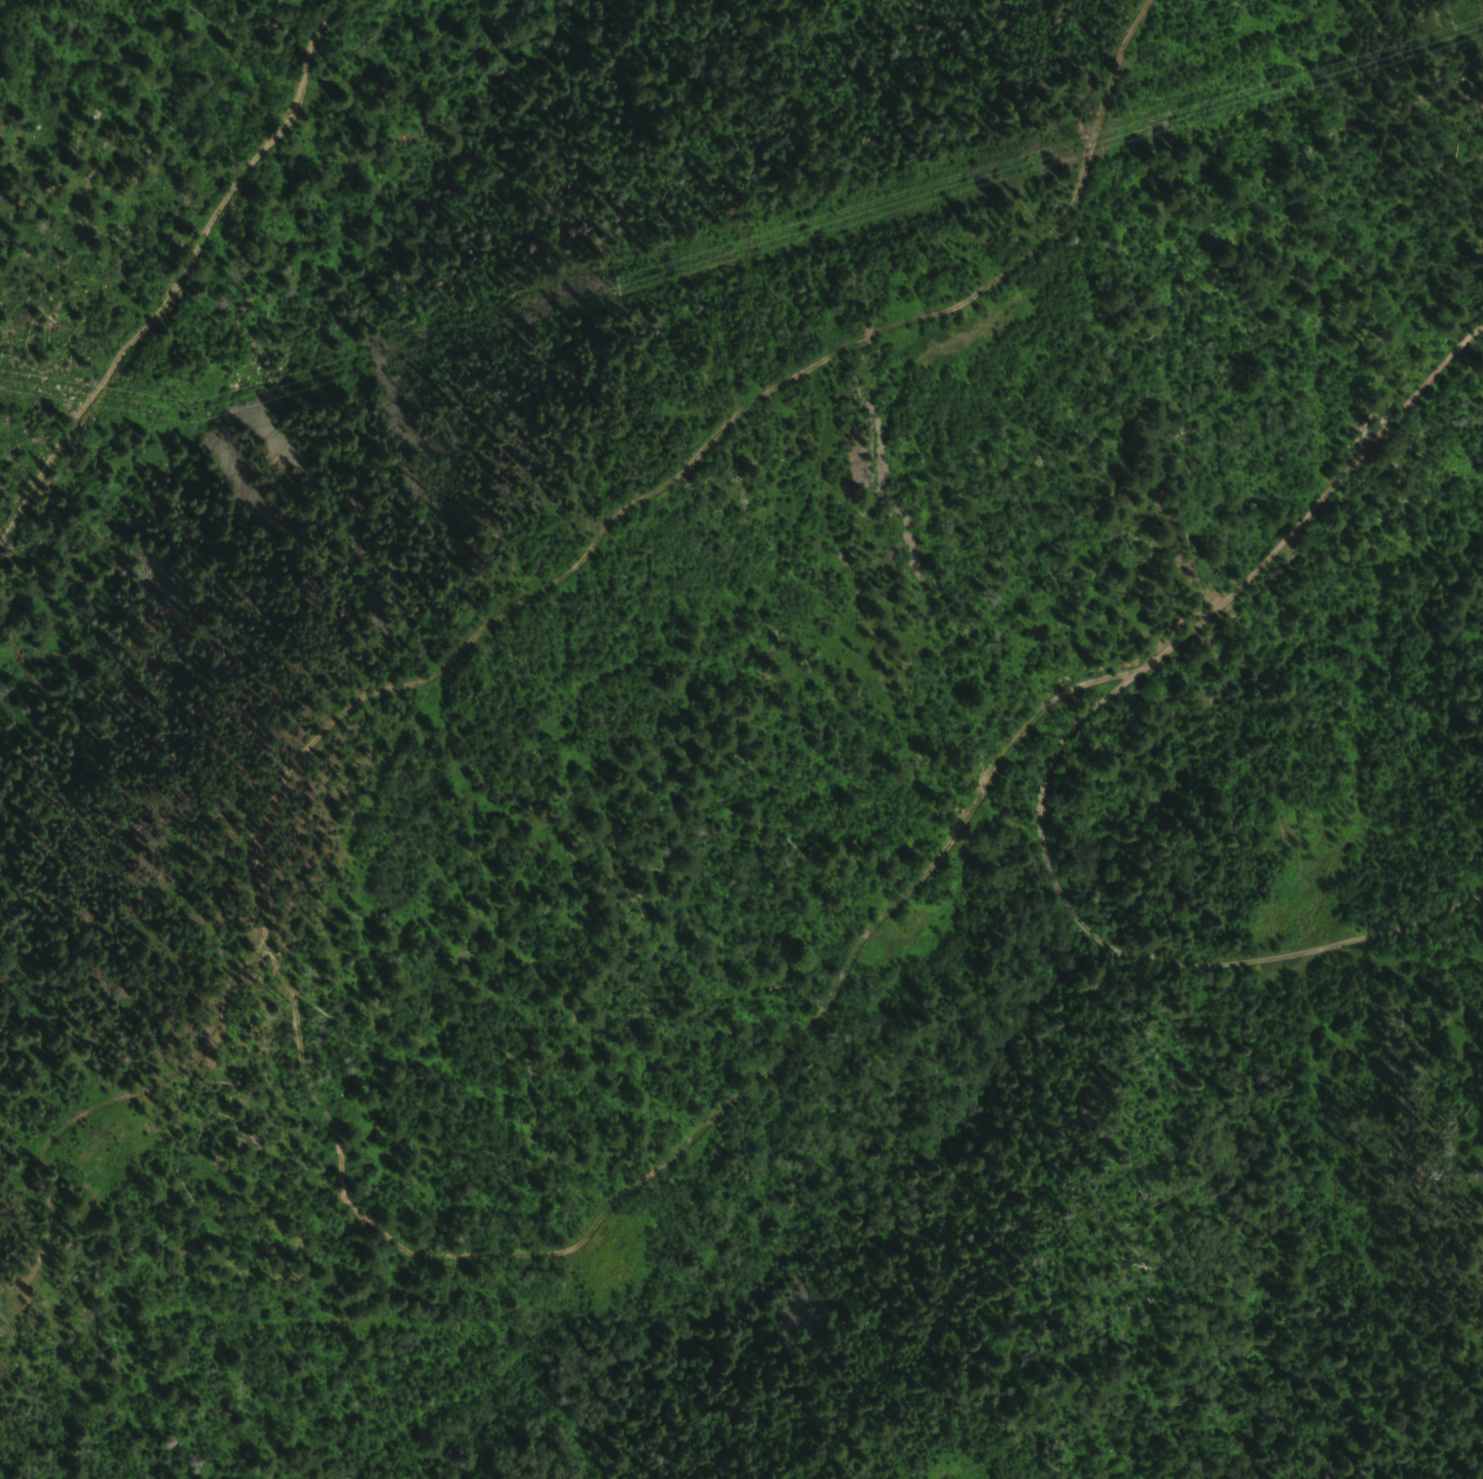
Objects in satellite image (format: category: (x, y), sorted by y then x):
road: (139, 211)
road: (1042, 740)

